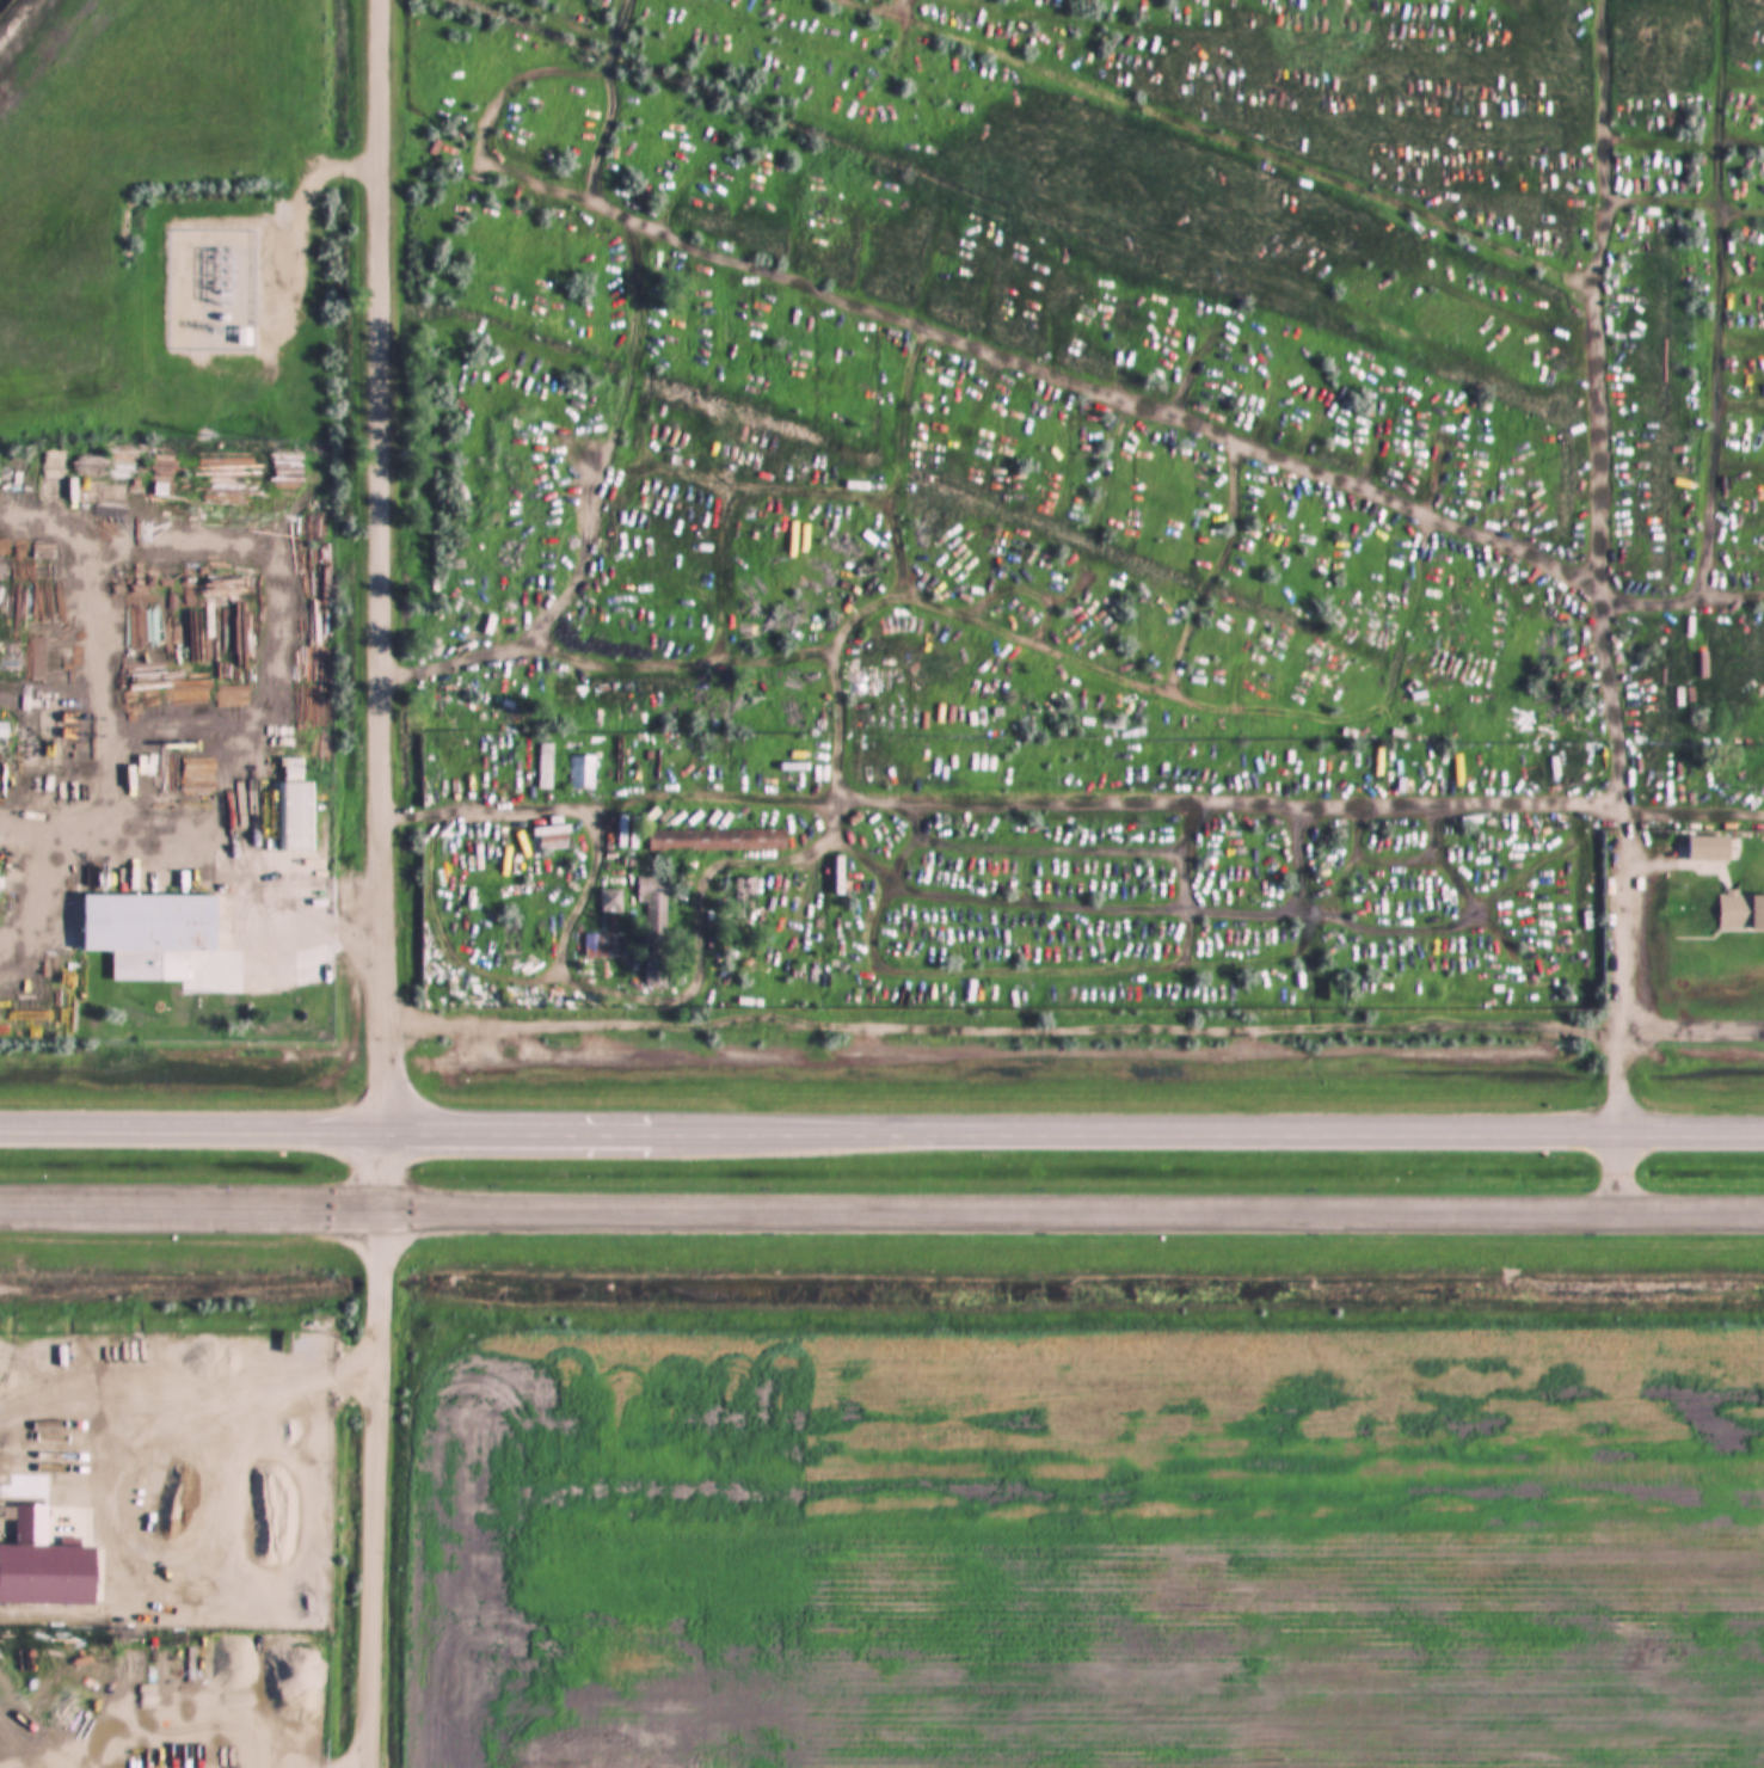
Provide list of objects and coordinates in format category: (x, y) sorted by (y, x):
road: (1370, 191)
road: (306, 223)
power substation: (211, 290)
road: (934, 324)
road: (386, 566)
building: (546, 766)
building: (582, 773)
building: (296, 806)
road: (202, 842)
building: (552, 842)
road: (1628, 861)
building: (841, 876)
building: (609, 906)
building: (654, 927)
building: (152, 933)
building: (597, 945)
road: (1074, 1030)
road: (881, 1132)
road: (381, 1171)
road: (1618, 1172)
road: (190, 1207)
road: (1072, 1209)
road: (376, 1487)
crop: (1086, 1558)

